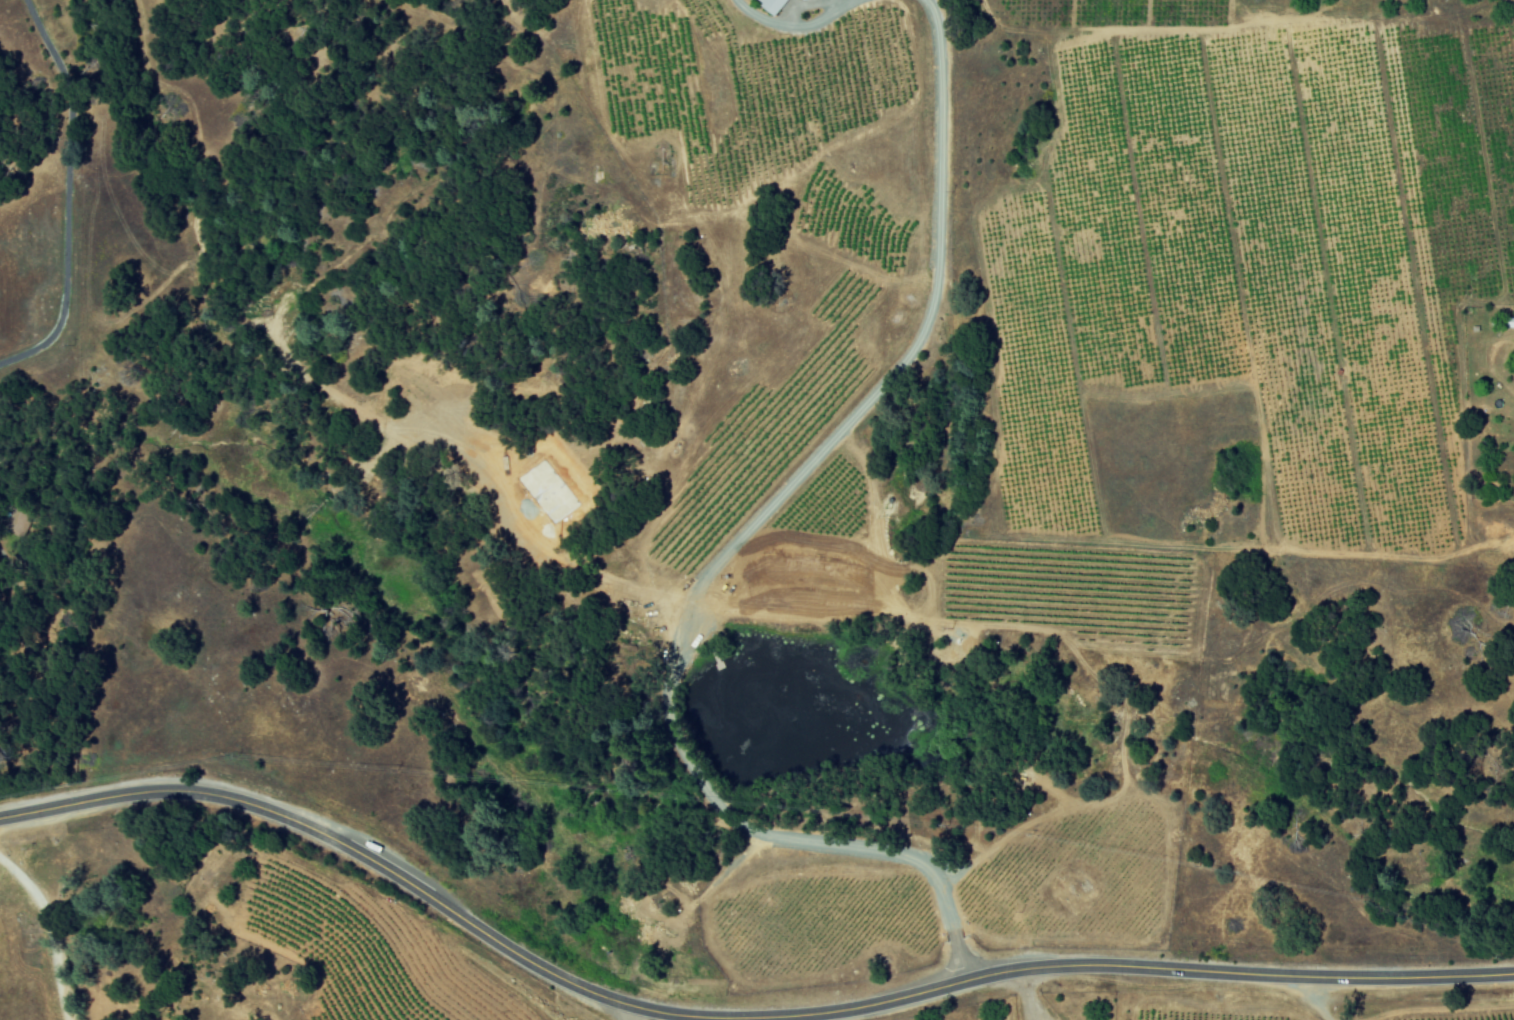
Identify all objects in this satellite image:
building: (782, 4)
road: (794, 20)
road: (68, 194)
road: (724, 546)
road: (50, 929)
road: (1310, 997)
road: (627, 1014)
road: (729, 1017)

